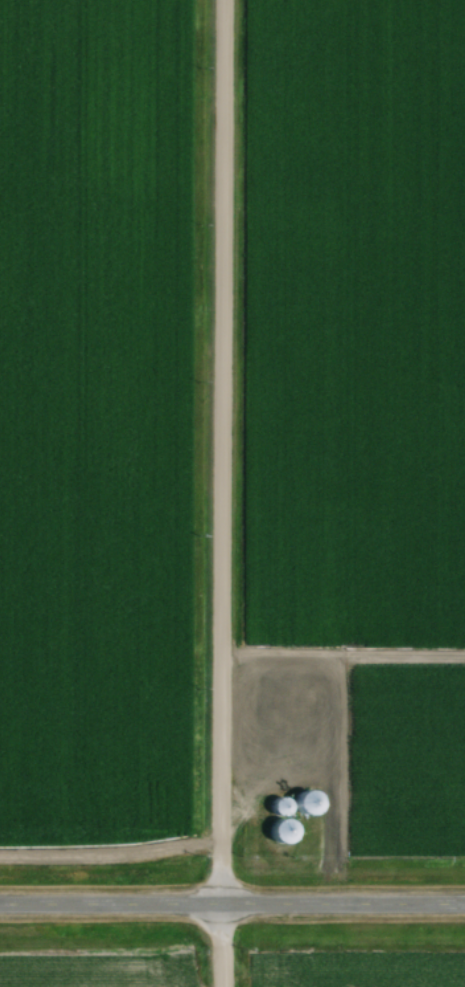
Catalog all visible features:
road: (225, 493)
building: (300, 804)
building: (272, 808)
building: (275, 832)
road: (232, 908)

